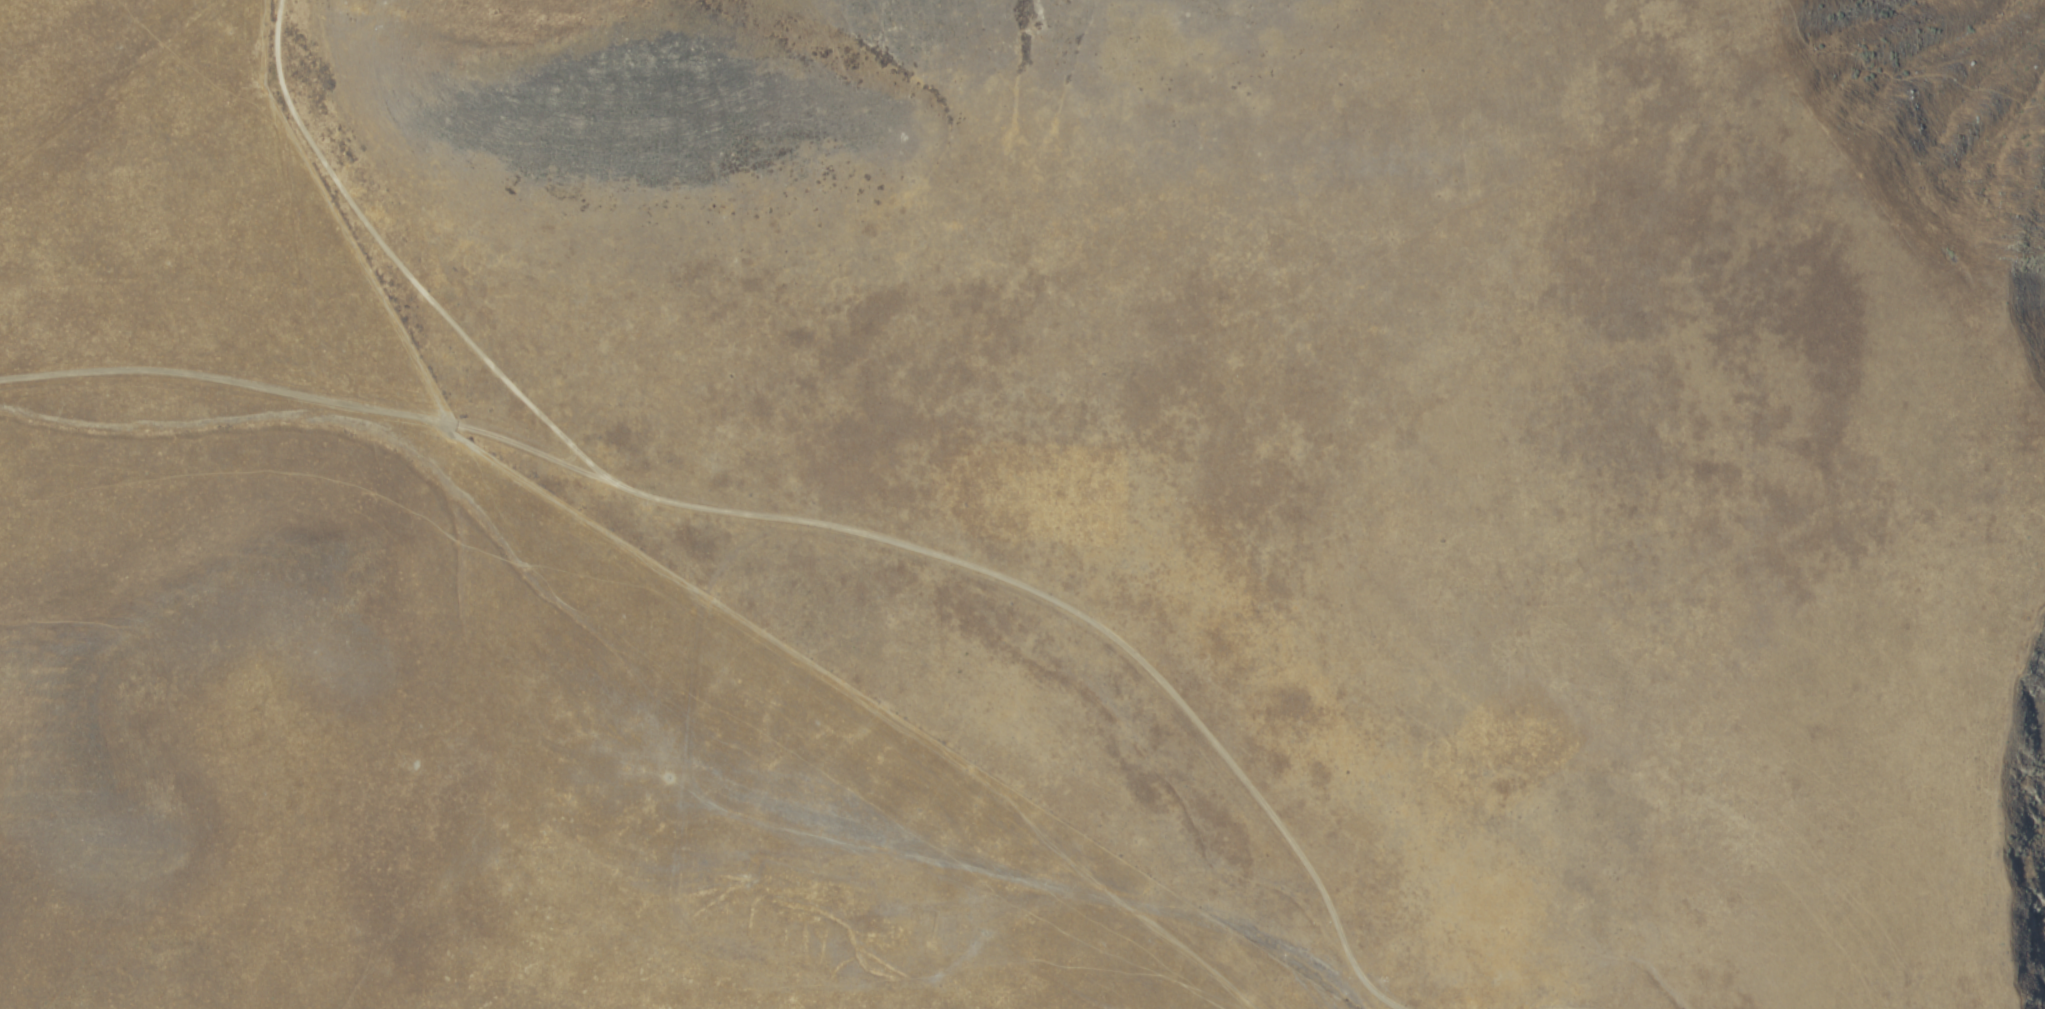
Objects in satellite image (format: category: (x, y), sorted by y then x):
road: (464, 332)

